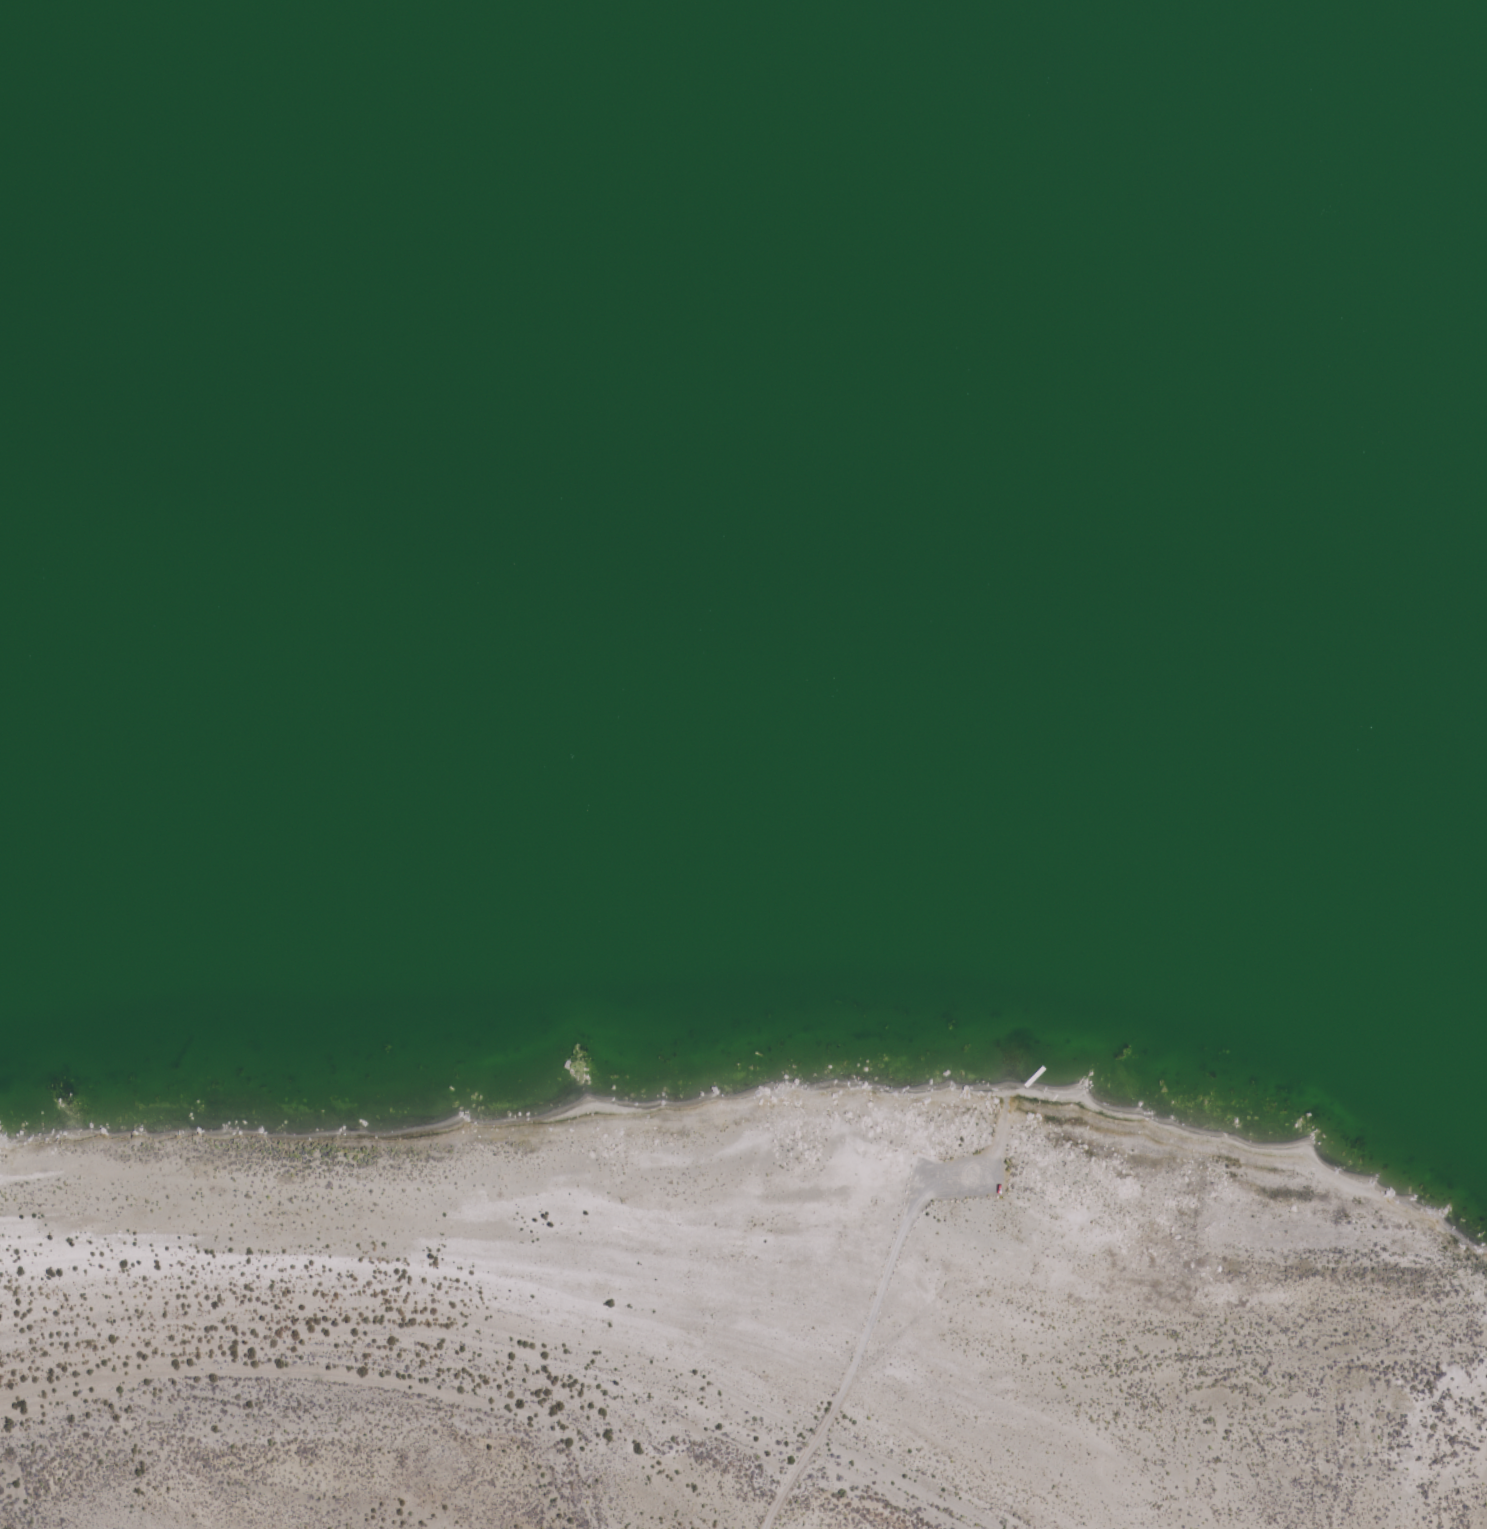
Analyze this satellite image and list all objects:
road: (861, 1333)

